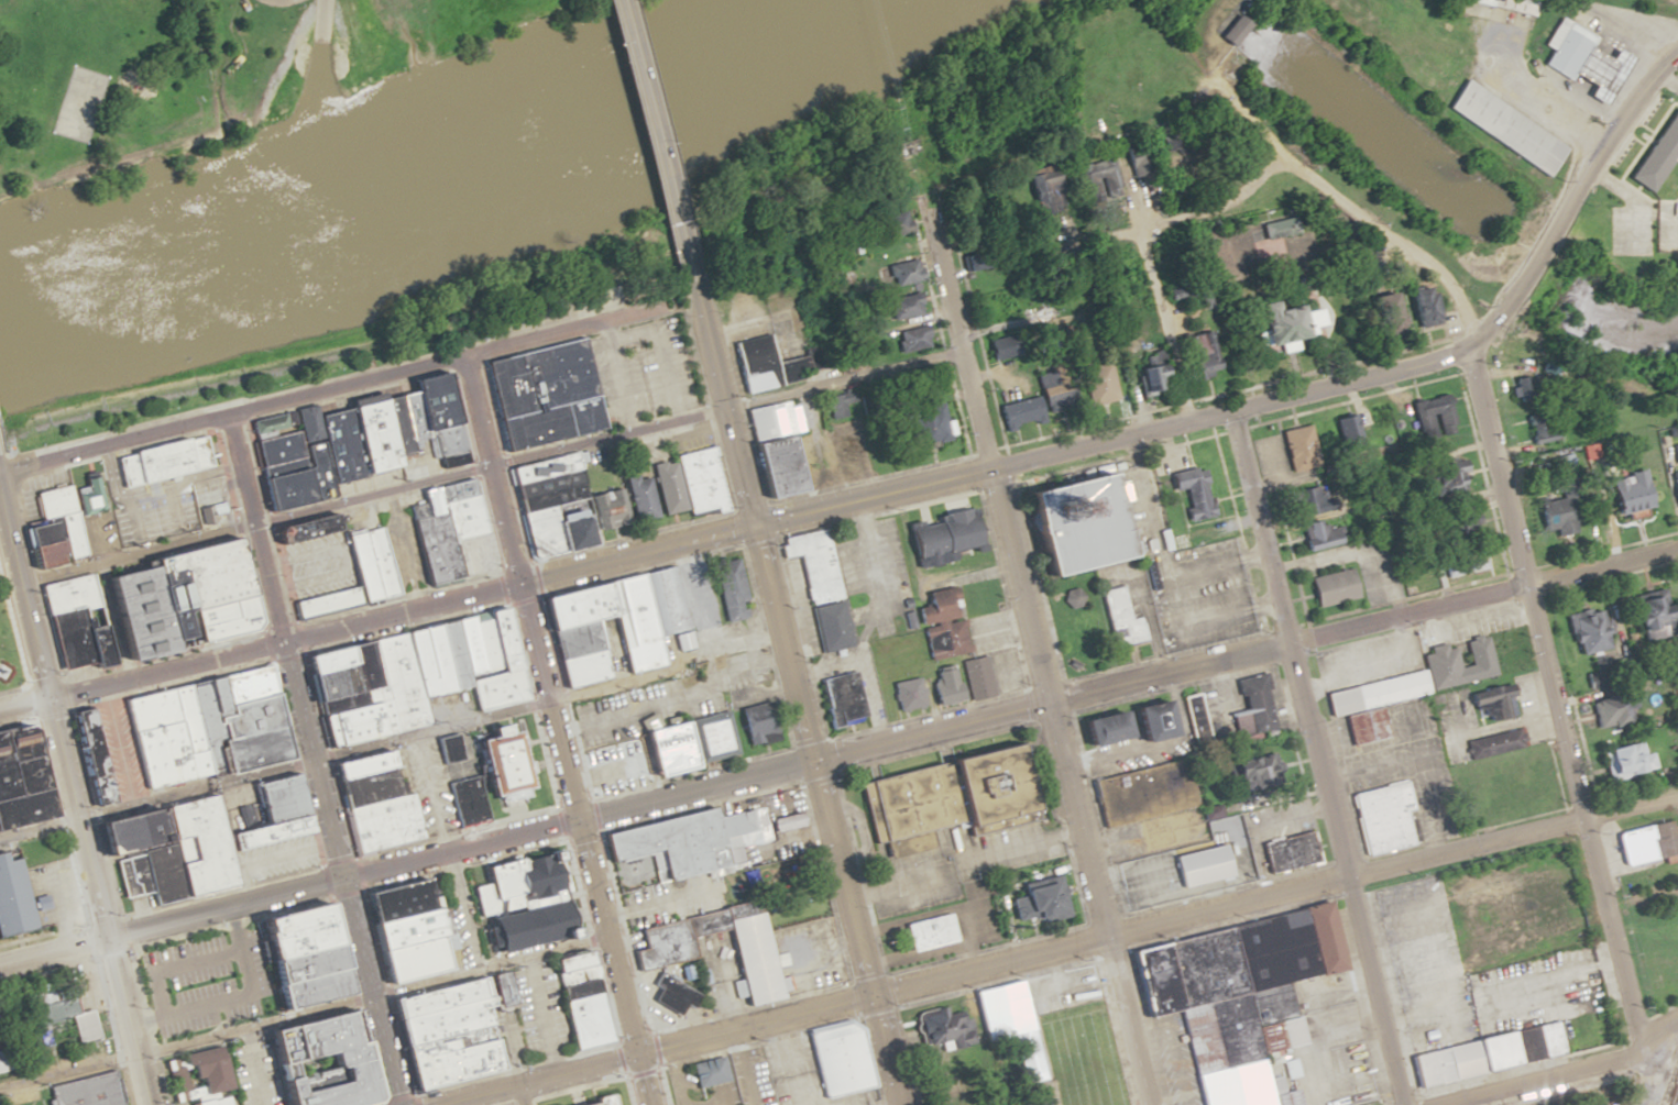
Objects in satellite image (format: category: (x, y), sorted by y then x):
building: (1226, 30)
park: (424, 35)
road: (320, 36)
building: (1578, 58)
park: (140, 85)
building: (1494, 125)
road: (1608, 131)
road: (648, 141)
building: (1654, 151)
building: (1136, 158)
river: (414, 175)
building: (1095, 177)
building: (1042, 190)
building: (1672, 216)
building: (890, 224)
building: (1275, 228)
road: (1532, 254)
building: (970, 261)
building: (902, 272)
road: (1150, 275)
road: (944, 281)
building: (903, 306)
building: (1416, 306)
building: (1379, 313)
road: (1493, 323)
building: (1275, 325)
road: (1057, 328)
road: (558, 329)
building: (1197, 355)
building: (763, 366)
parking lot: (655, 369)
road: (1175, 372)
road: (617, 374)
road: (838, 376)
building: (1147, 377)
building: (1096, 383)
parking lot: (601, 384)
road: (340, 386)
building: (1514, 387)
building: (538, 394)
building: (1035, 406)
building: (1435, 413)
building: (924, 426)
building: (1534, 428)
building: (1342, 429)
road: (603, 438)
building: (350, 441)
road: (110, 444)
building: (775, 446)
building: (1292, 449)
road: (1119, 457)
building: (154, 462)
road: (991, 468)
building: (1671, 471)
building: (1439, 480)
building: (699, 482)
building: (1189, 491)
building: (1622, 494)
road: (369, 497)
building: (639, 497)
parking lot: (1138, 501)
building: (550, 505)
building: (1548, 515)
building: (1312, 521)
building: (1081, 524)
building: (1459, 524)
traffic signals: (748, 530)
building: (449, 532)
road: (1237, 532)
building: (942, 537)
road: (132, 557)
building: (365, 557)
building: (812, 564)
road: (1041, 582)
traffic signals: (519, 586)
building: (1329, 587)
building: (125, 588)
building: (728, 590)
parking lot: (1203, 594)
parking lot: (1132, 597)
building: (1072, 598)
building: (1644, 614)
building: (941, 620)
building: (1119, 620)
building: (648, 623)
park: (1079, 625)
parking lot: (1469, 625)
building: (830, 627)
building: (1583, 630)
road: (282, 644)
traffic signals: (278, 645)
road: (1132, 655)
road: (1166, 655)
parking lot: (1364, 661)
building: (1436, 661)
building: (1073, 665)
building: (976, 678)
road: (1128, 679)
building: (239, 684)
building: (942, 686)
road: (790, 693)
building: (1372, 693)
building: (907, 694)
traffic signals: (44, 699)
building: (842, 699)
building: (1492, 700)
road: (1553, 704)
road: (22, 705)
building: (1250, 707)
building: (396, 709)
building: (1611, 709)
building: (1145, 721)
parking lot: (1523, 721)
building: (757, 723)
road: (1051, 726)
building: (1363, 727)
building: (1097, 729)
road: (556, 730)
building: (1195, 730)
building: (712, 739)
building: (1491, 744)
building: (648, 753)
building: (94, 758)
road: (1316, 758)
road: (307, 760)
building: (1625, 760)
traffic signals: (808, 761)
parking lot: (1400, 763)
building: (500, 765)
building: (1251, 773)
road: (1556, 776)
building: (19, 778)
building: (940, 798)
road: (73, 815)
building: (1379, 818)
traffic signals: (579, 819)
road: (1509, 821)
building: (750, 827)
building: (121, 835)
building: (1647, 843)
building: (1287, 852)
building: (1187, 870)
traffic signals: (338, 880)
road: (289, 891)
building: (12, 899)
building: (1040, 902)
building: (517, 905)
road: (1158, 922)
building: (397, 931)
building: (925, 932)
traffic signals: (105, 937)
building: (661, 955)
building: (290, 958)
building: (569, 962)
road: (1068, 964)
parking lot: (1471, 974)
parking lot: (201, 977)
road: (1390, 995)
building: (671, 996)
traffic signals: (868, 996)
building: (1233, 997)
building: (1001, 1010)
road: (1307, 1013)
building: (585, 1020)
building: (59, 1021)
building: (942, 1026)
parking lot: (1345, 1027)
building: (443, 1028)
parking lot: (908, 1028)
parking lot: (1075, 1038)
traffic signals: (639, 1052)
building: (1487, 1053)
road: (908, 1056)
building: (1026, 1058)
building: (317, 1059)
building: (836, 1060)
parking lot: (1169, 1060)
building: (2, 1061)
road: (790, 1061)
road: (744, 1067)
building: (1287, 1068)
road: (1515, 1068)
building: (202, 1070)
road: (717, 1070)
road: (67, 1071)
road: (710, 1071)
building: (708, 1072)
road: (1317, 1073)
road: (677, 1074)
road: (1565, 1074)
parking lot: (759, 1075)
parking lot: (799, 1075)
road: (534, 1078)
parking lot: (689, 1079)
parking lot: (672, 1087)
building: (87, 1091)
road: (522, 1093)
building: (599, 1101)
building: (213, 1102)
building: (951, 1102)
building: (1040, 1102)
road: (892, 1104)

